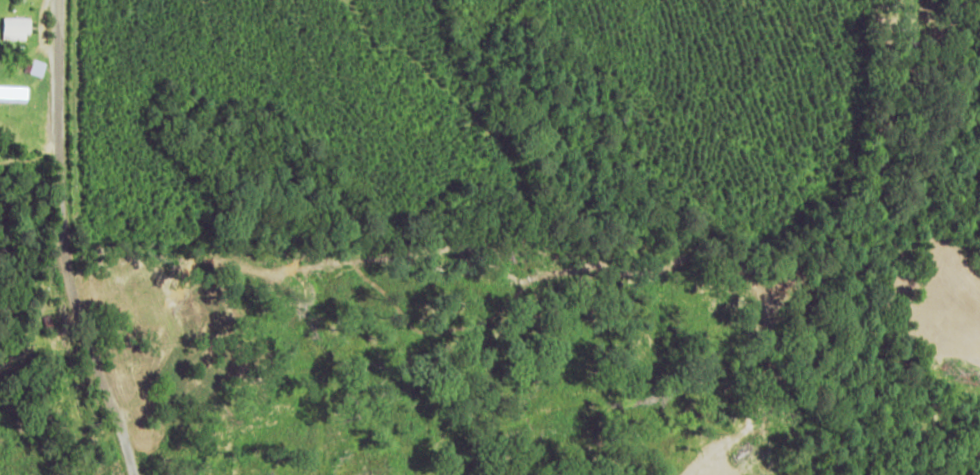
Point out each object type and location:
building: (14, 28)
road: (86, 241)

